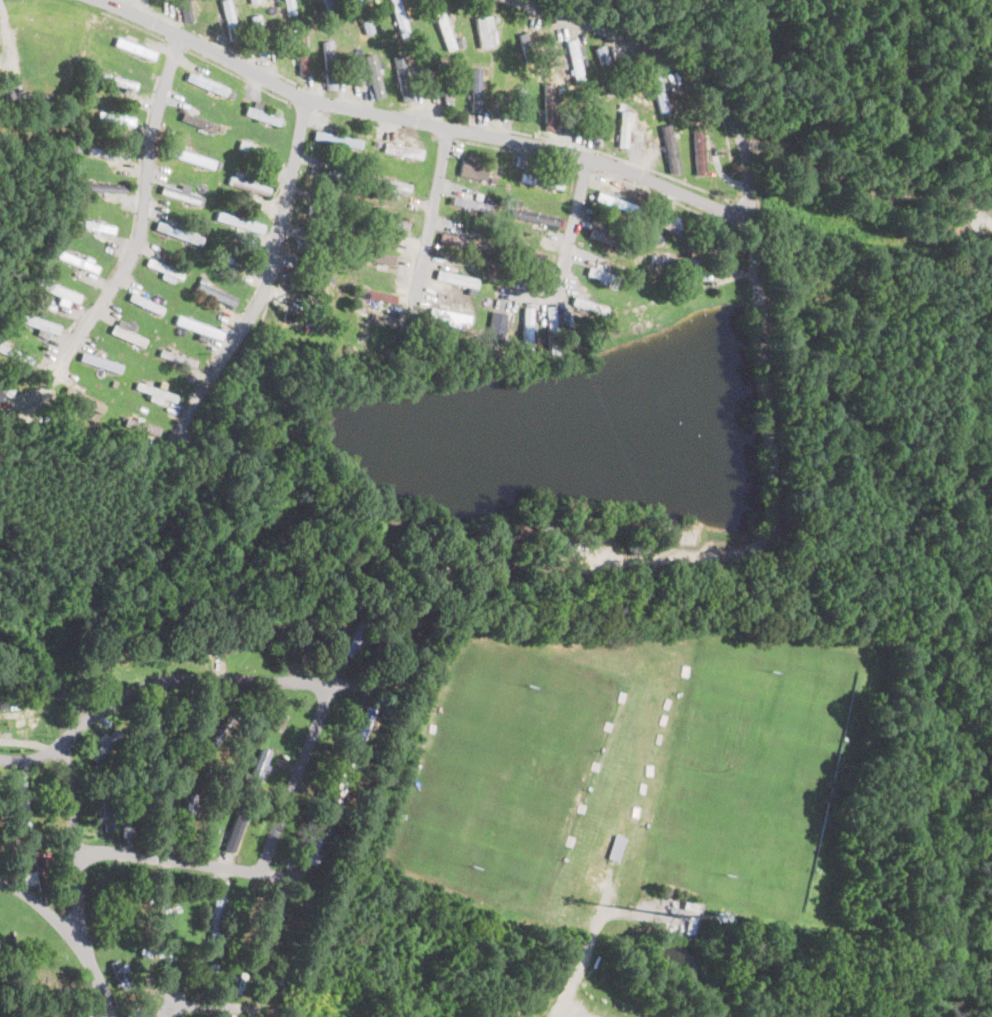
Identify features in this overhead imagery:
building: (253, 1)
building: (327, 4)
building: (287, 7)
building: (184, 10)
building: (361, 16)
building: (399, 16)
building: (228, 22)
building: (442, 30)
building: (483, 32)
building: (256, 35)
building: (523, 47)
building: (133, 48)
building: (299, 55)
building: (573, 60)
building: (327, 65)
building: (604, 69)
building: (372, 76)
building: (400, 78)
building: (116, 81)
building: (442, 83)
building: (205, 84)
building: (656, 89)
building: (473, 90)
building: (24, 97)
building: (517, 103)
building: (547, 106)
building: (260, 115)
building: (110, 116)
building: (197, 122)
road: (412, 122)
building: (594, 124)
building: (621, 129)
building: (335, 140)
building: (668, 148)
building: (254, 149)
building: (697, 149)
building: (401, 150)
building: (189, 157)
building: (474, 169)
building: (540, 180)
building: (247, 185)
building: (99, 187)
building: (180, 195)
building: (613, 201)
building: (470, 203)
building: (322, 212)
building: (533, 216)
building: (381, 221)
building: (238, 222)
building: (93, 225)
road: (140, 225)
building: (670, 225)
building: (177, 233)
road: (428, 234)
building: (602, 236)
building: (462, 241)
road: (565, 248)
building: (527, 255)
building: (372, 258)
building: (673, 260)
building: (76, 261)
building: (163, 268)
building: (601, 274)
building: (454, 278)
road: (268, 280)
building: (306, 283)
building: (55, 290)
building: (215, 294)
building: (373, 295)
building: (144, 303)
building: (589, 305)
building: (447, 314)
building: (550, 314)
building: (36, 321)
building: (197, 327)
building: (495, 328)
building: (525, 330)
building: (126, 335)
building: (15, 354)
road: (762, 354)
building: (176, 357)
building: (99, 362)
building: (154, 391)
building: (84, 400)
building: (141, 426)
building: (357, 635)
building: (300, 638)
road: (175, 682)
building: (362, 724)
building: (105, 744)
building: (263, 755)
park: (756, 769)
park: (500, 776)
road: (296, 778)
building: (340, 782)
building: (20, 804)
building: (106, 807)
building: (186, 813)
building: (232, 829)
building: (126, 830)
building: (318, 840)
building: (614, 846)
road: (204, 866)
building: (34, 867)
road: (87, 890)
building: (113, 901)
road: (41, 903)
building: (158, 906)
building: (215, 917)
building: (265, 923)
road: (231, 949)
building: (117, 973)
road: (567, 975)
building: (237, 982)
road: (181, 983)
road: (193, 1004)
road: (573, 1010)

